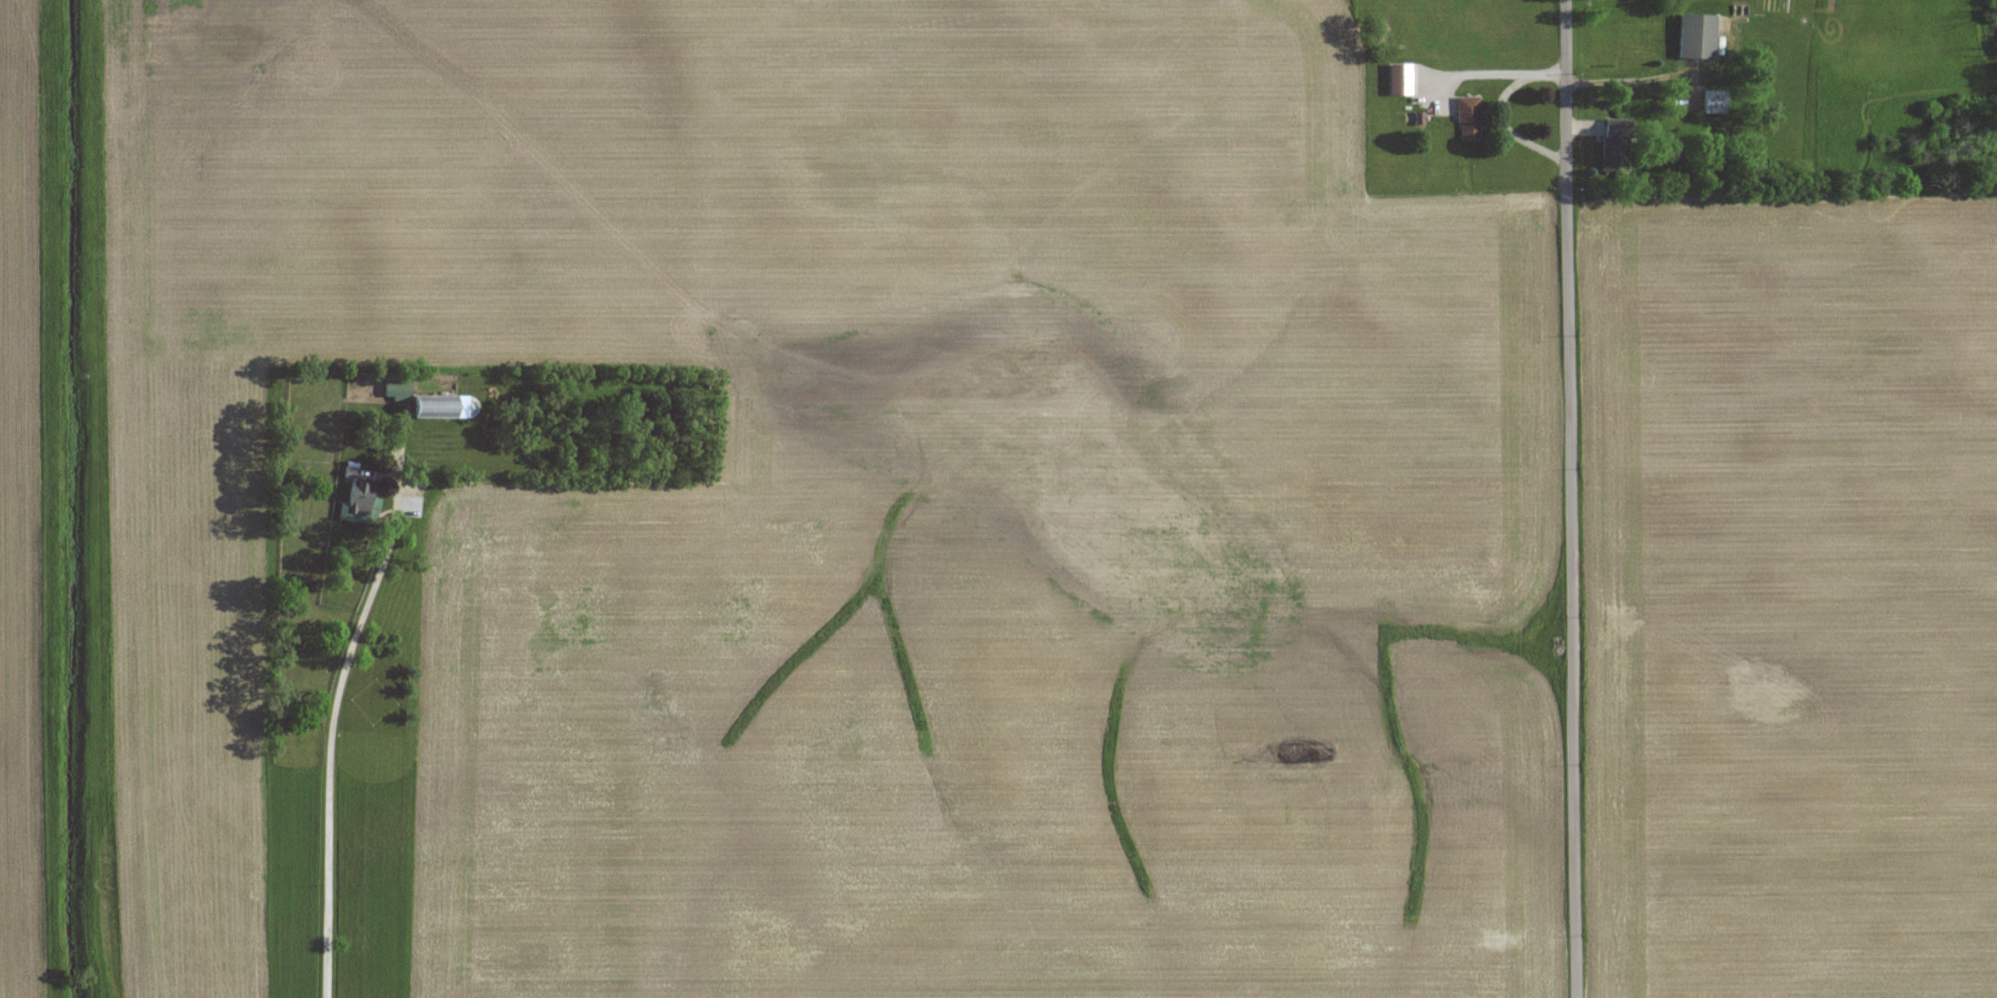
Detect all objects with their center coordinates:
building: (1699, 37)
road: (1628, 64)
building: (1716, 102)
road: (1500, 107)
building: (1469, 118)
building: (1618, 145)
building: (402, 389)
building: (437, 406)
building: (358, 495)
road: (1571, 499)
road: (328, 753)

